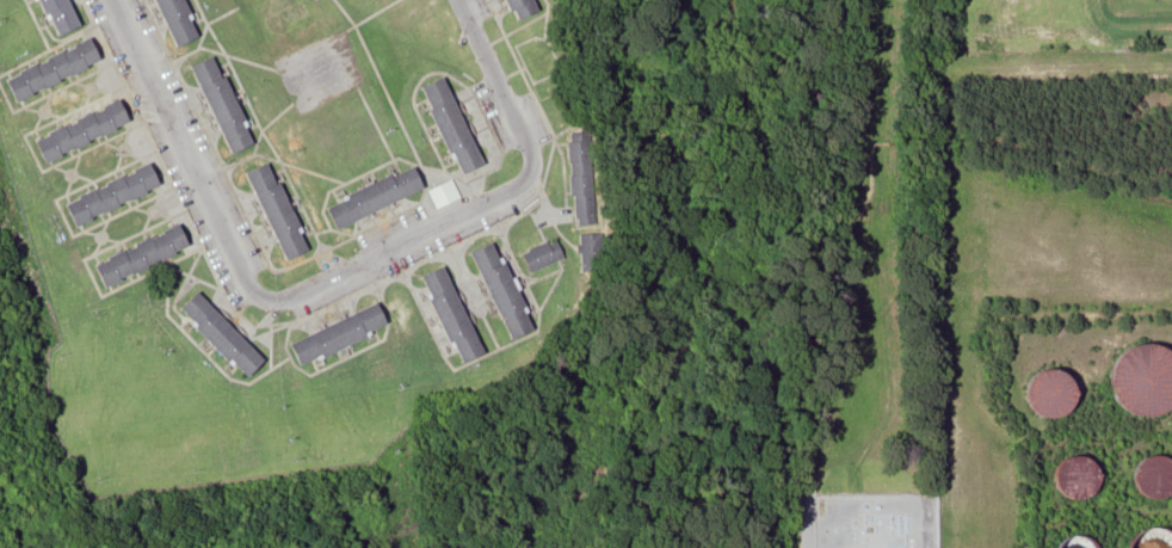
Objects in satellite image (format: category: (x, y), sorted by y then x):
building: (526, 10)
building: (185, 21)
building: (64, 55)
road: (501, 82)
building: (230, 105)
building: (459, 127)
building: (90, 131)
road: (186, 150)
building: (585, 178)
building: (119, 195)
building: (444, 197)
building: (382, 198)
building: (285, 210)
road: (402, 240)
building: (593, 251)
building: (547, 253)
building: (148, 254)
building: (510, 289)
building: (459, 314)
building: (229, 333)
building: (347, 333)

